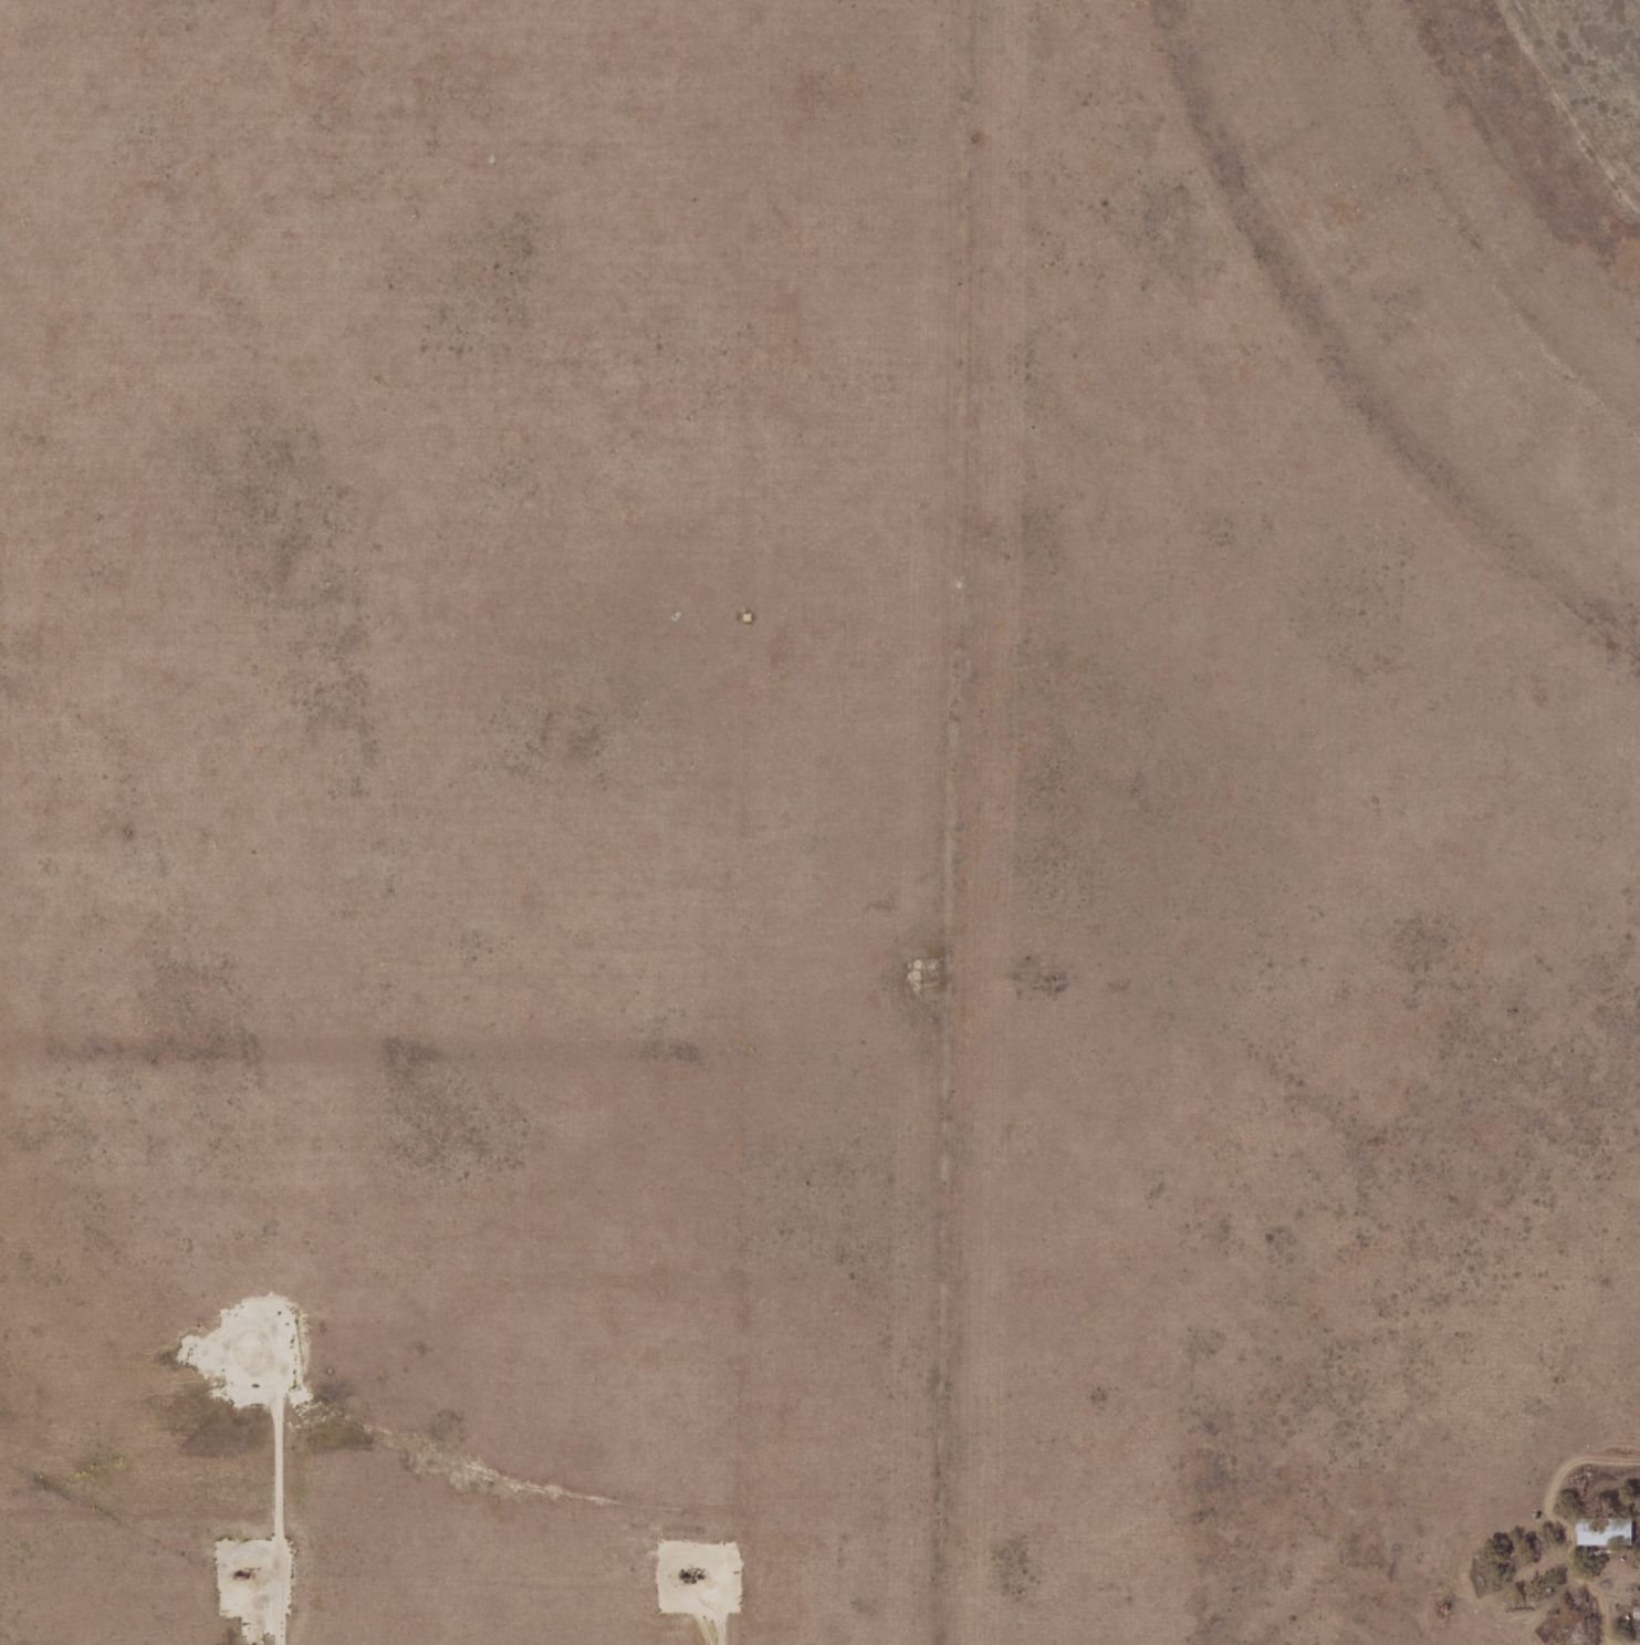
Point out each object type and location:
building: (1604, 1531)

